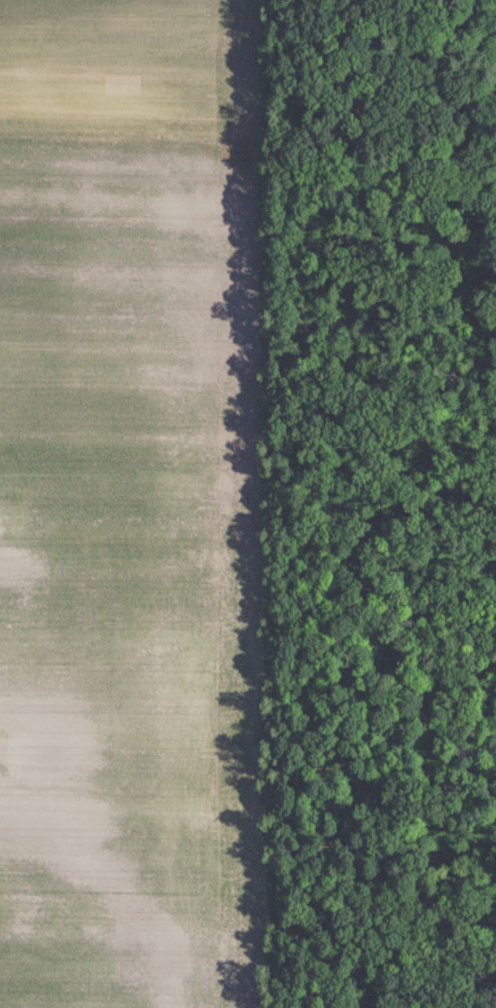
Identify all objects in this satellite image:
building: (494, 71)

